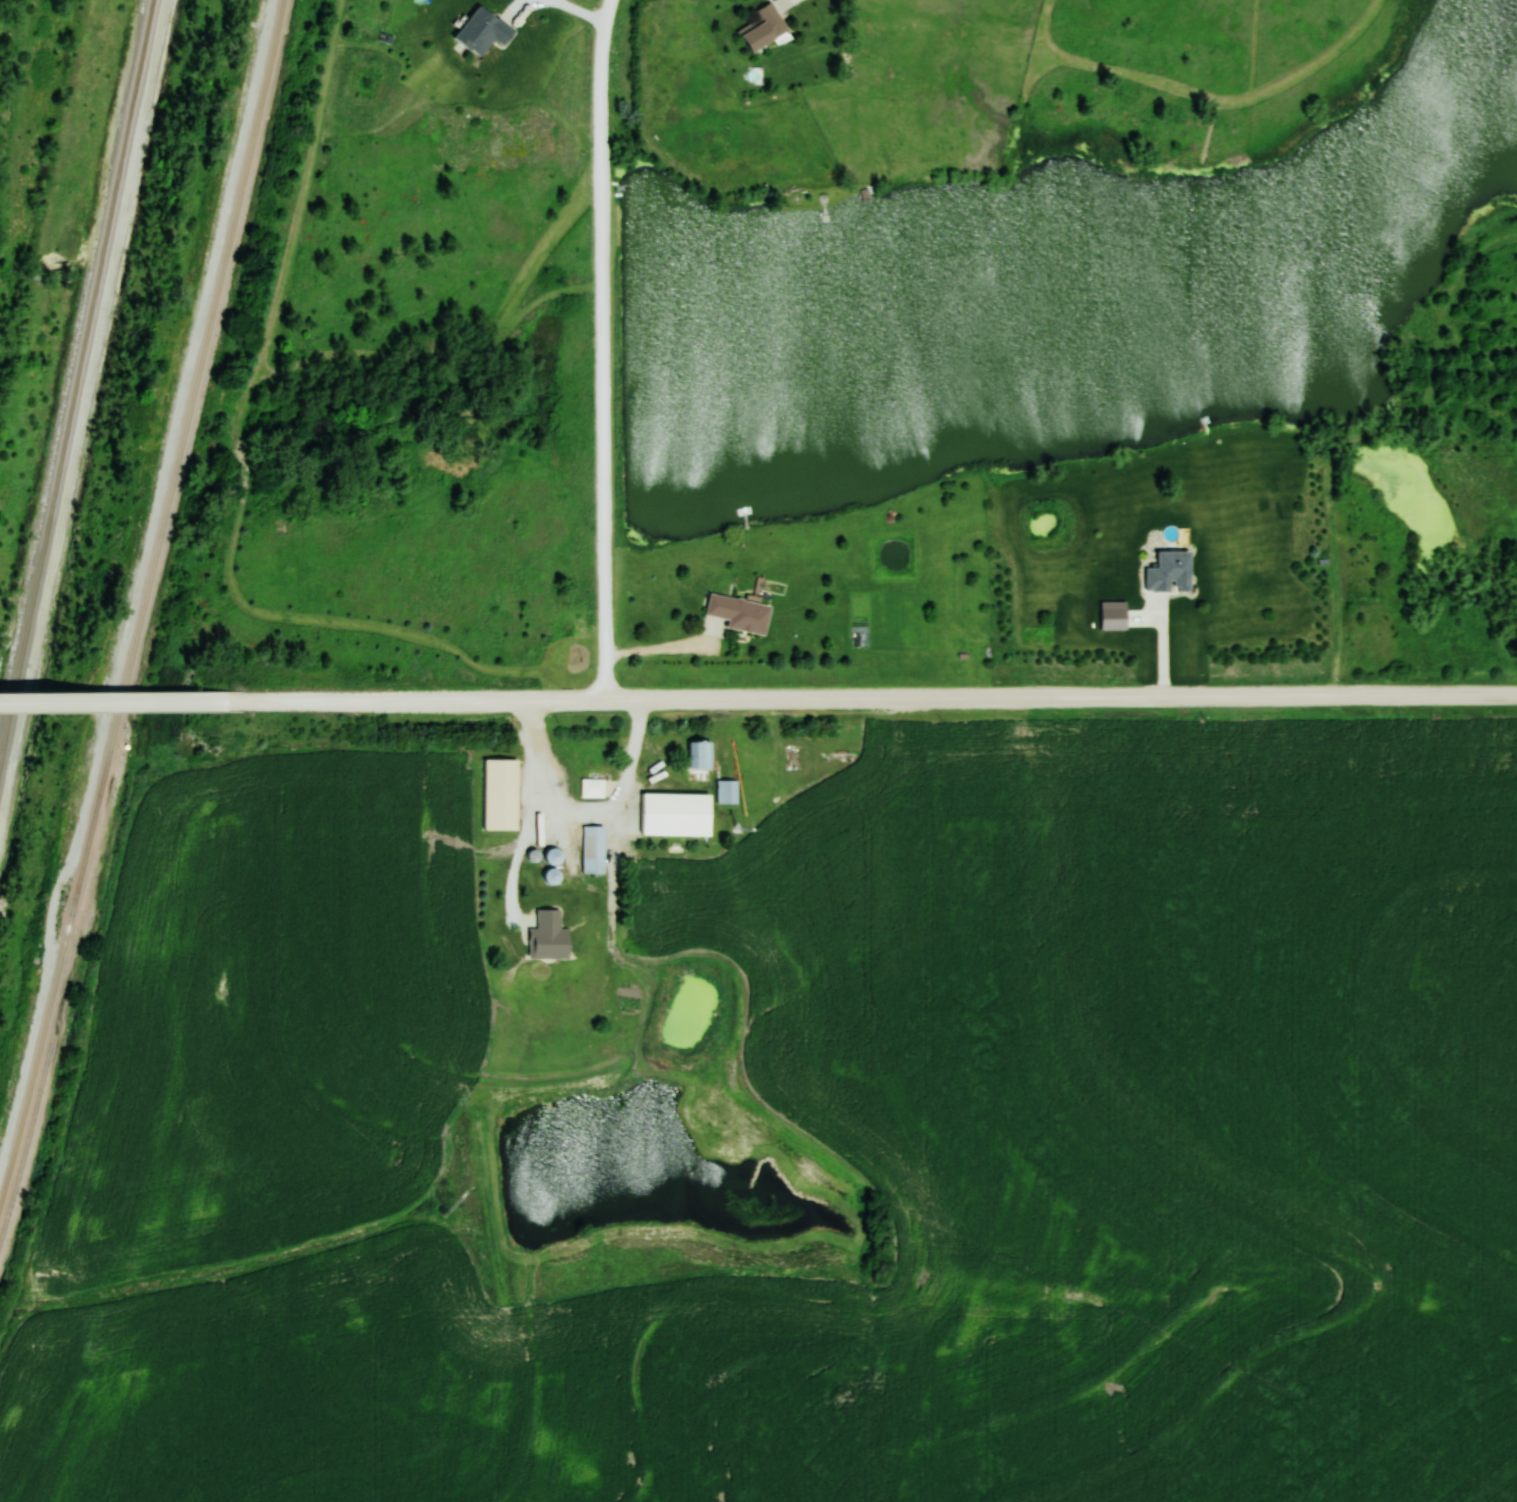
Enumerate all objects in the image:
building: (764, 27)
road: (607, 349)
railway: (78, 388)
railway: (144, 598)
building: (740, 613)
road: (878, 698)
road: (119, 702)
building: (700, 754)
building: (592, 787)
building: (727, 792)
building: (500, 793)
building: (671, 814)
building: (593, 849)
building: (554, 855)
building: (552, 875)
building: (549, 936)

